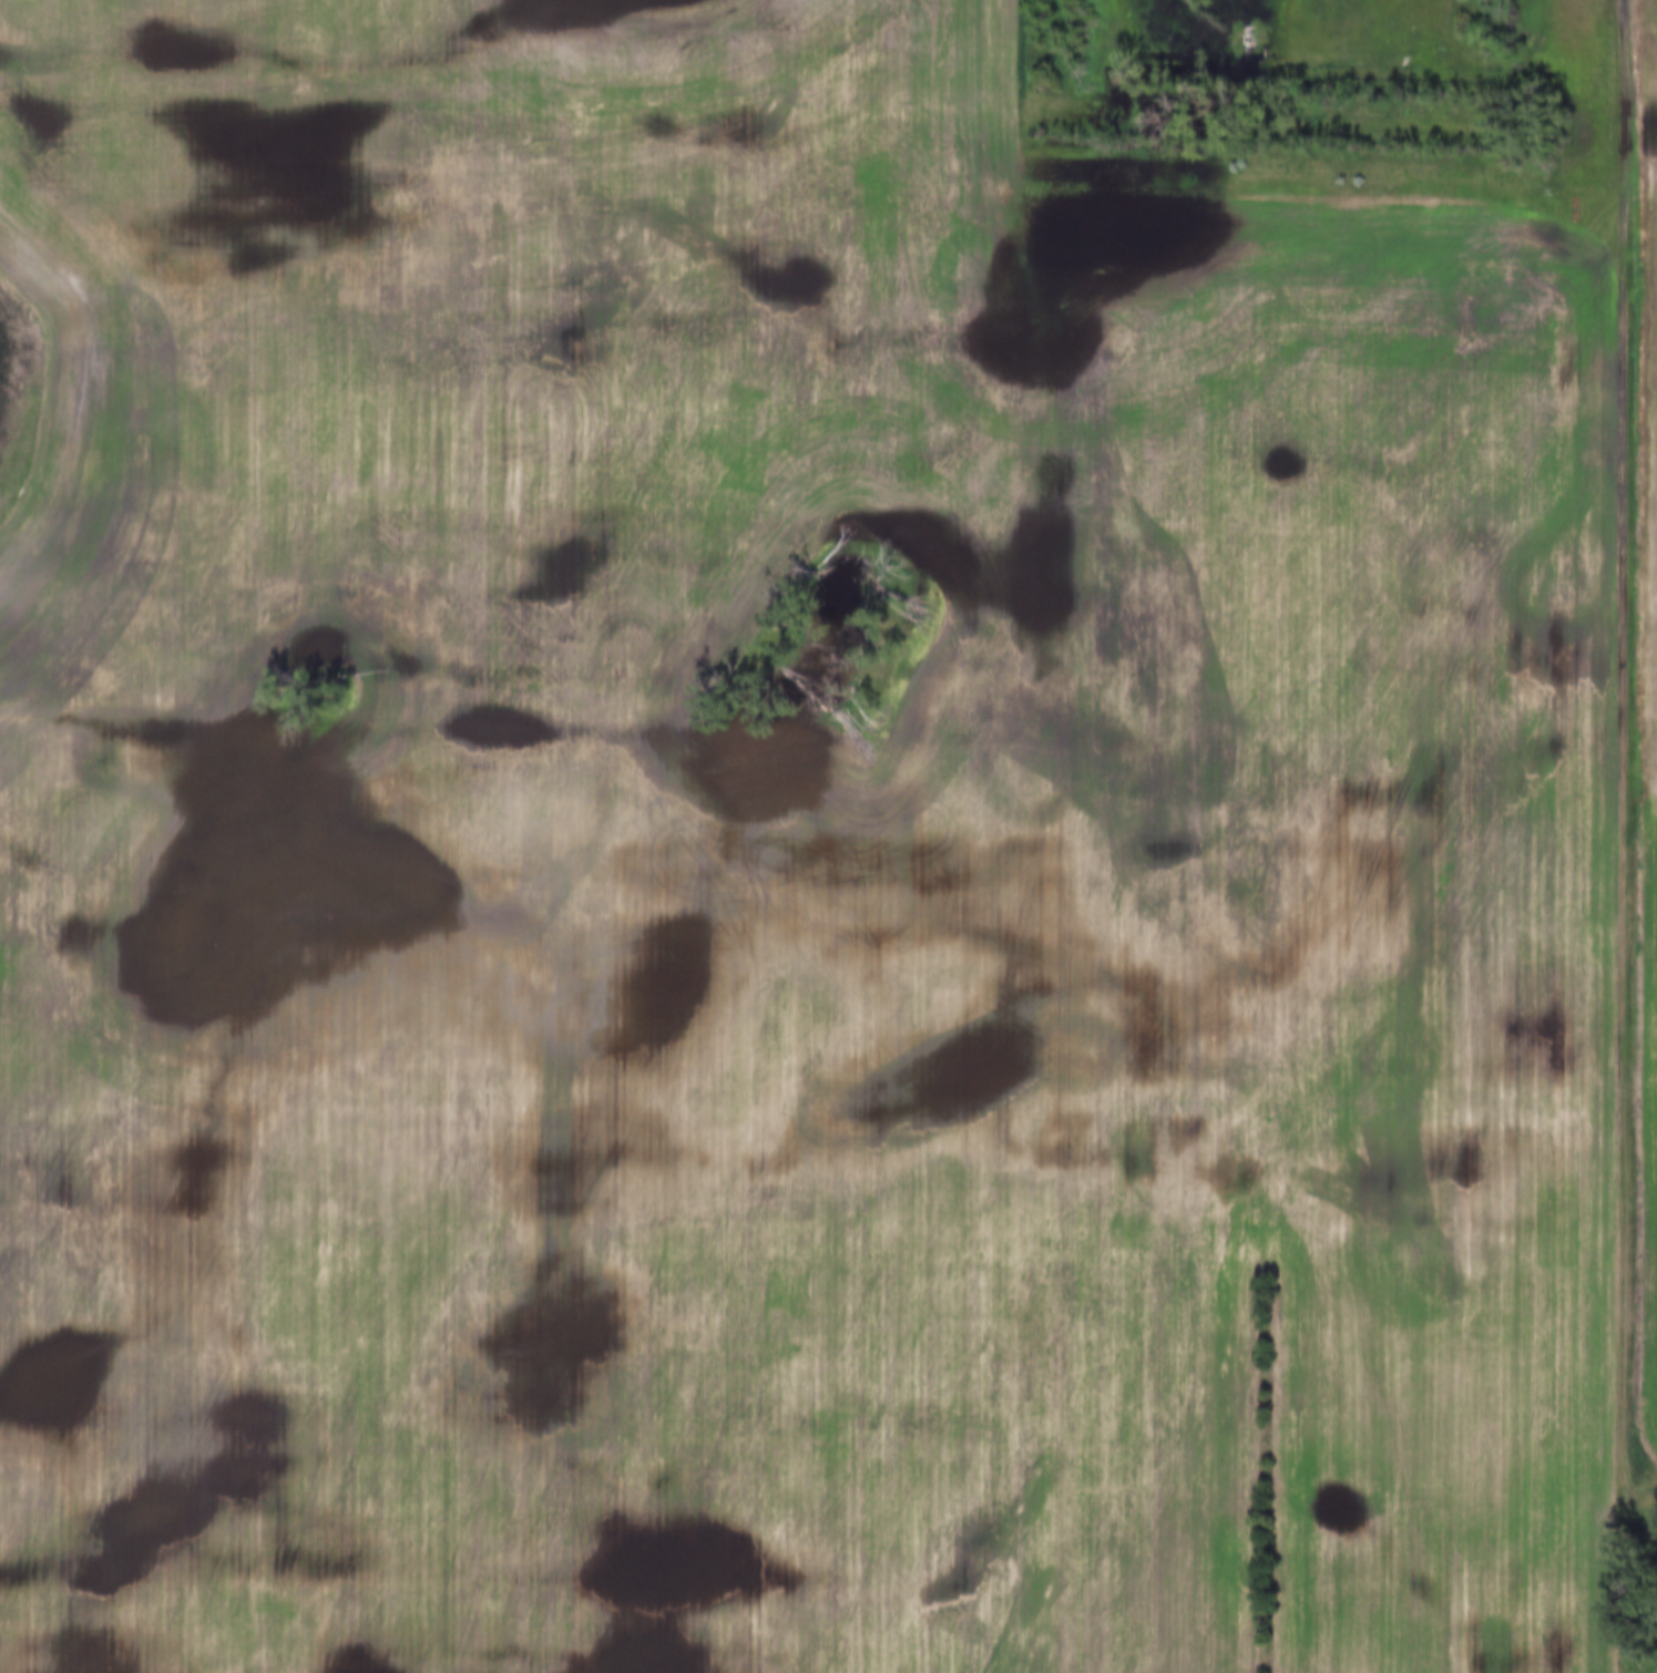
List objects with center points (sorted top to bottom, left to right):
road: (1627, 835)

